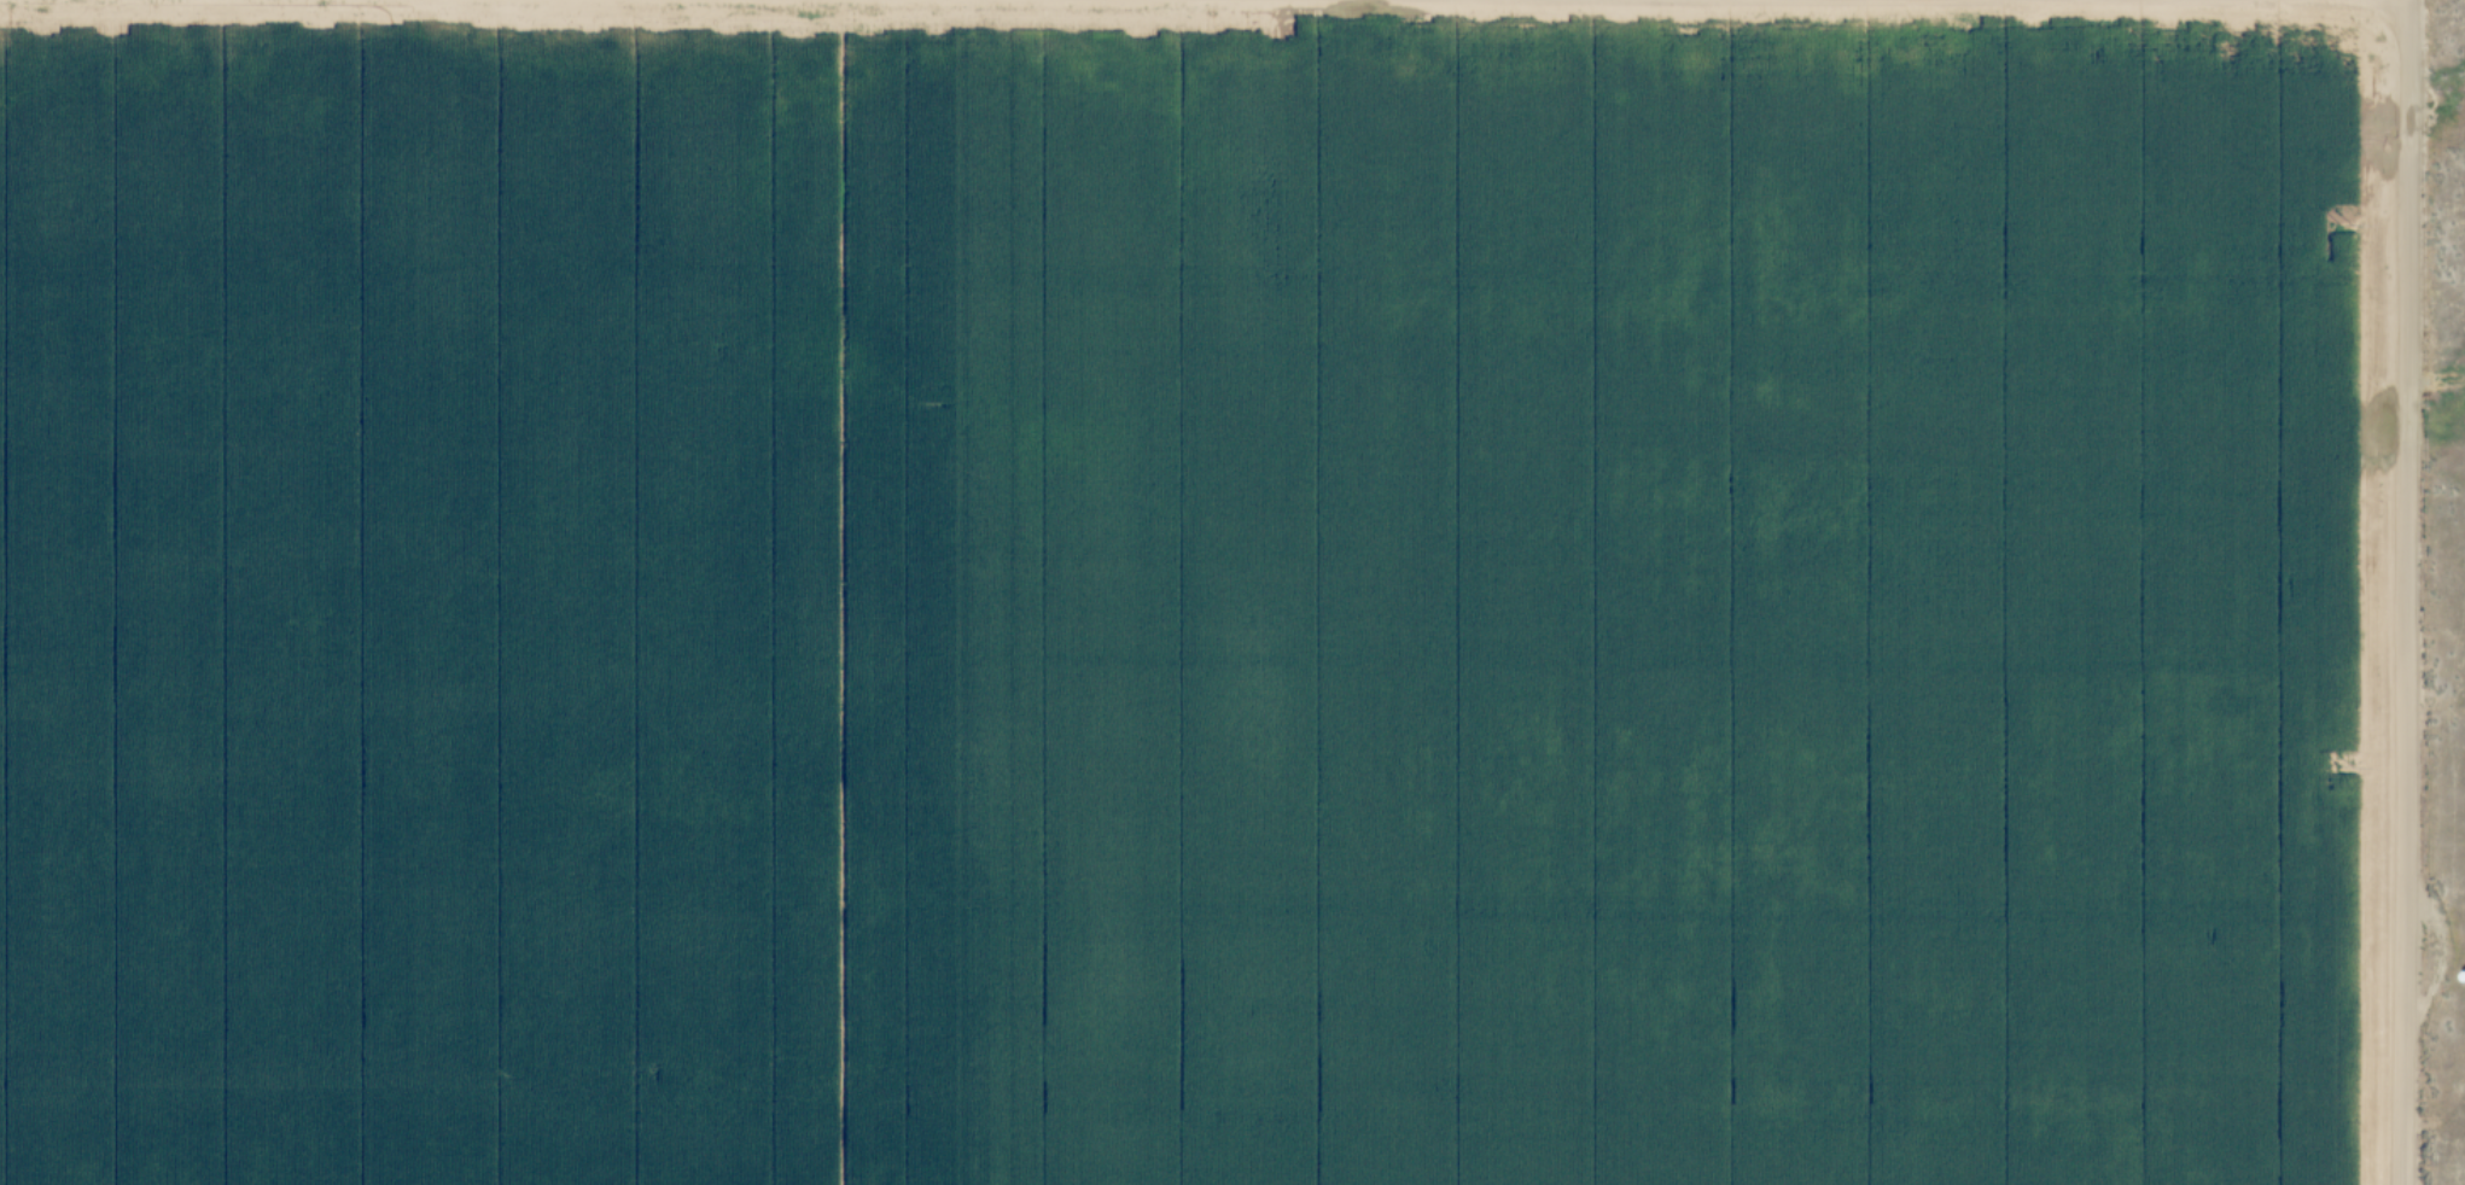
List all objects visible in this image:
road: (2407, 1)
power tower: (2348, 221)
crop: (1190, 591)
road: (2407, 594)
power tower: (2343, 763)

